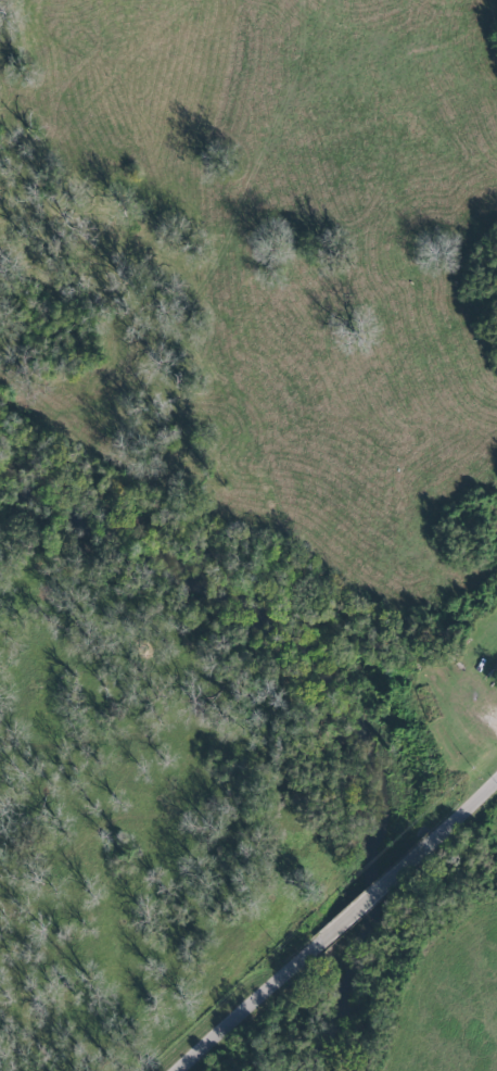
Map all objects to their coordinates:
road: (336, 929)

